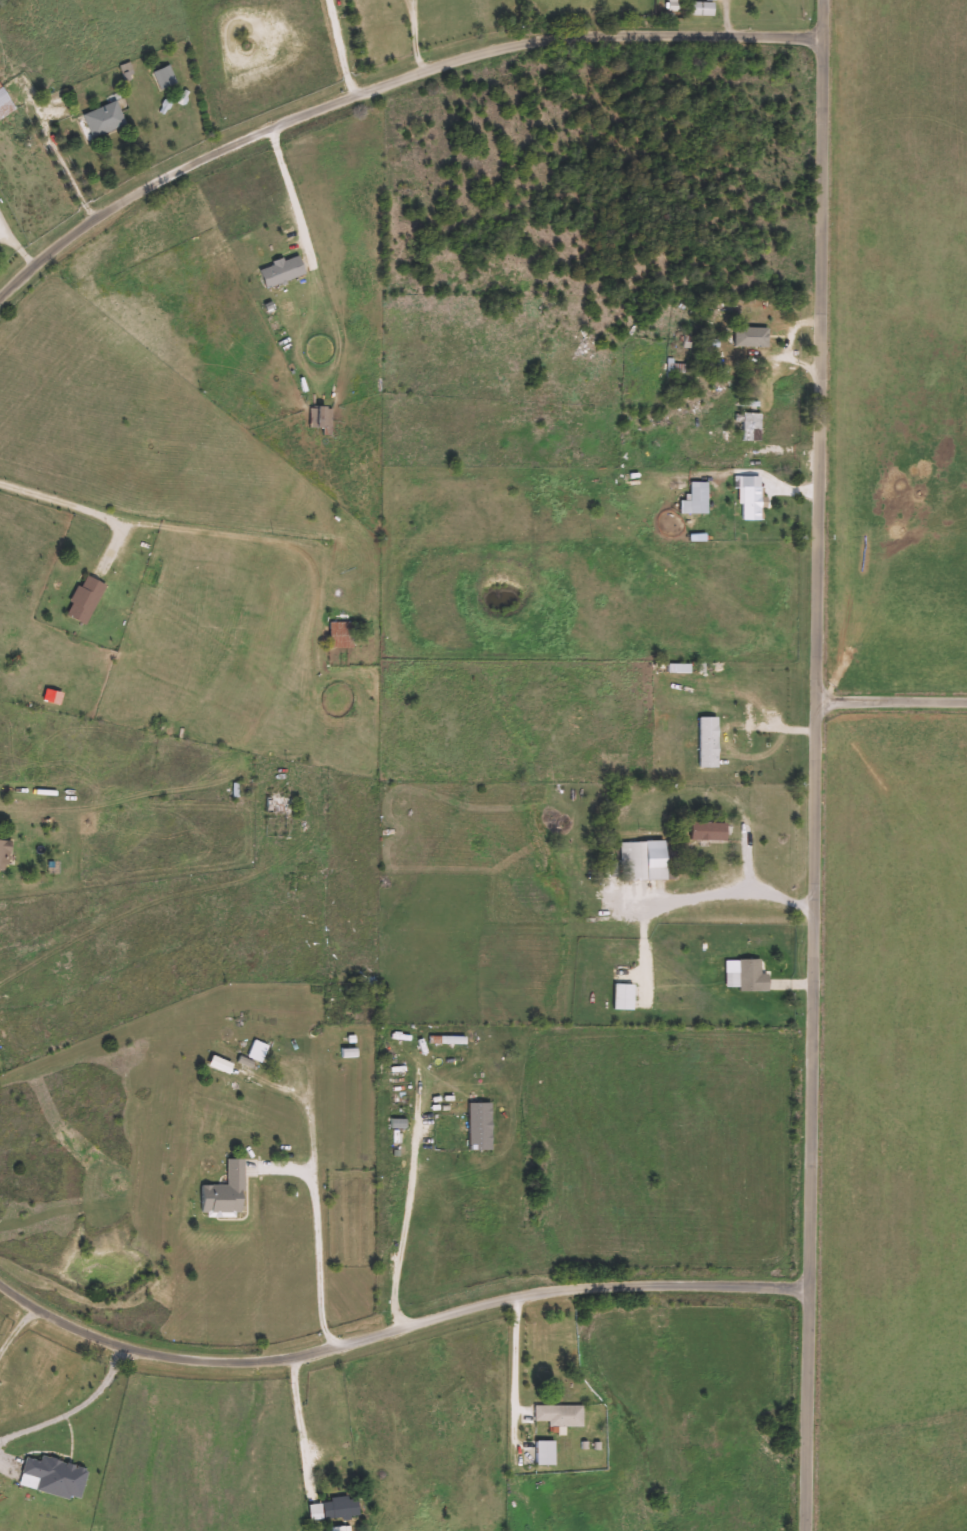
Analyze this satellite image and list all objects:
building: (703, 9)
road: (417, 37)
road: (340, 49)
building: (165, 78)
road: (386, 86)
building: (5, 103)
building: (105, 120)
road: (288, 183)
building: (284, 271)
building: (752, 337)
building: (677, 367)
building: (322, 417)
building: (752, 427)
building: (698, 498)
building: (752, 498)
road: (205, 531)
building: (87, 598)
building: (341, 634)
building: (684, 668)
road: (892, 701)
building: (752, 726)
road: (774, 750)
road: (815, 765)
building: (278, 808)
building: (5, 853)
building: (645, 860)
road: (729, 895)
building: (750, 976)
building: (625, 996)
building: (449, 1040)
building: (241, 1058)
road: (408, 1227)
road: (322, 1259)
road: (16, 1325)
road: (396, 1332)
road: (519, 1351)
road: (73, 1408)
building: (560, 1415)
road: (304, 1425)
building: (547, 1452)
building: (58, 1476)
building: (335, 1508)
building: (341, 1529)

